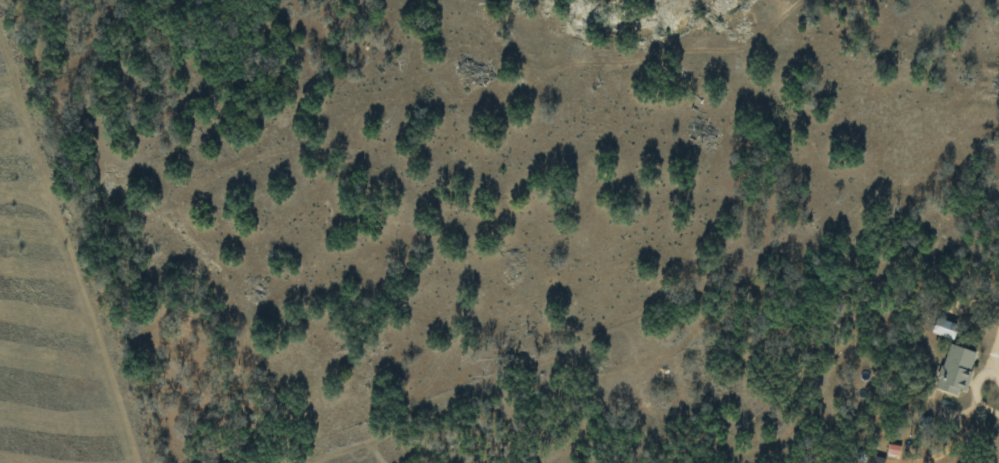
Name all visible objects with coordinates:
road: (977, 299)
building: (945, 327)
road: (993, 351)
building: (956, 368)
road: (974, 388)

